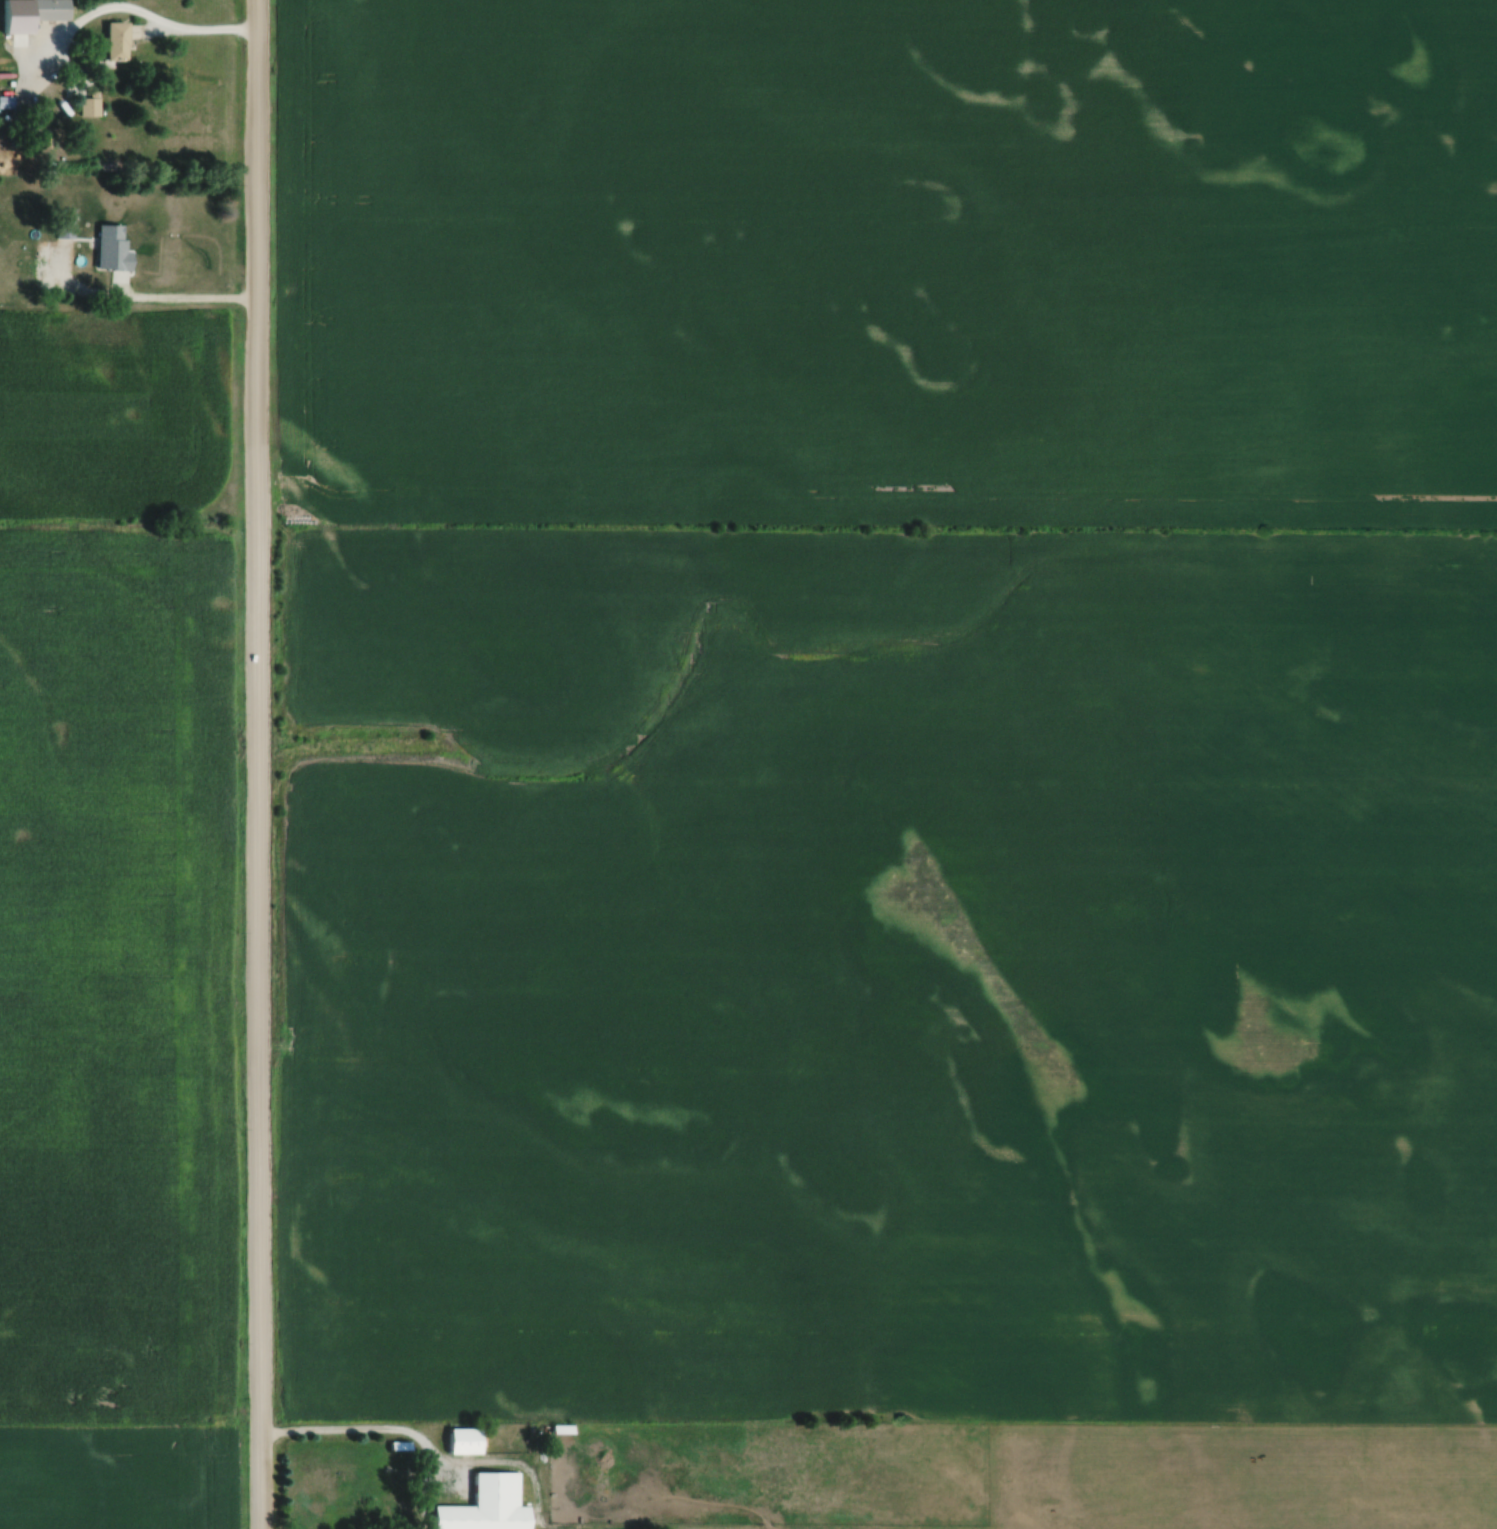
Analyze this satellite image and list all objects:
building: (47, 10)
road: (199, 30)
building: (114, 41)
building: (4, 103)
building: (88, 107)
building: (63, 230)
building: (102, 254)
road: (181, 298)
road: (261, 764)
road: (404, 1430)
building: (463, 1440)
road: (441, 1479)
building: (486, 1505)

